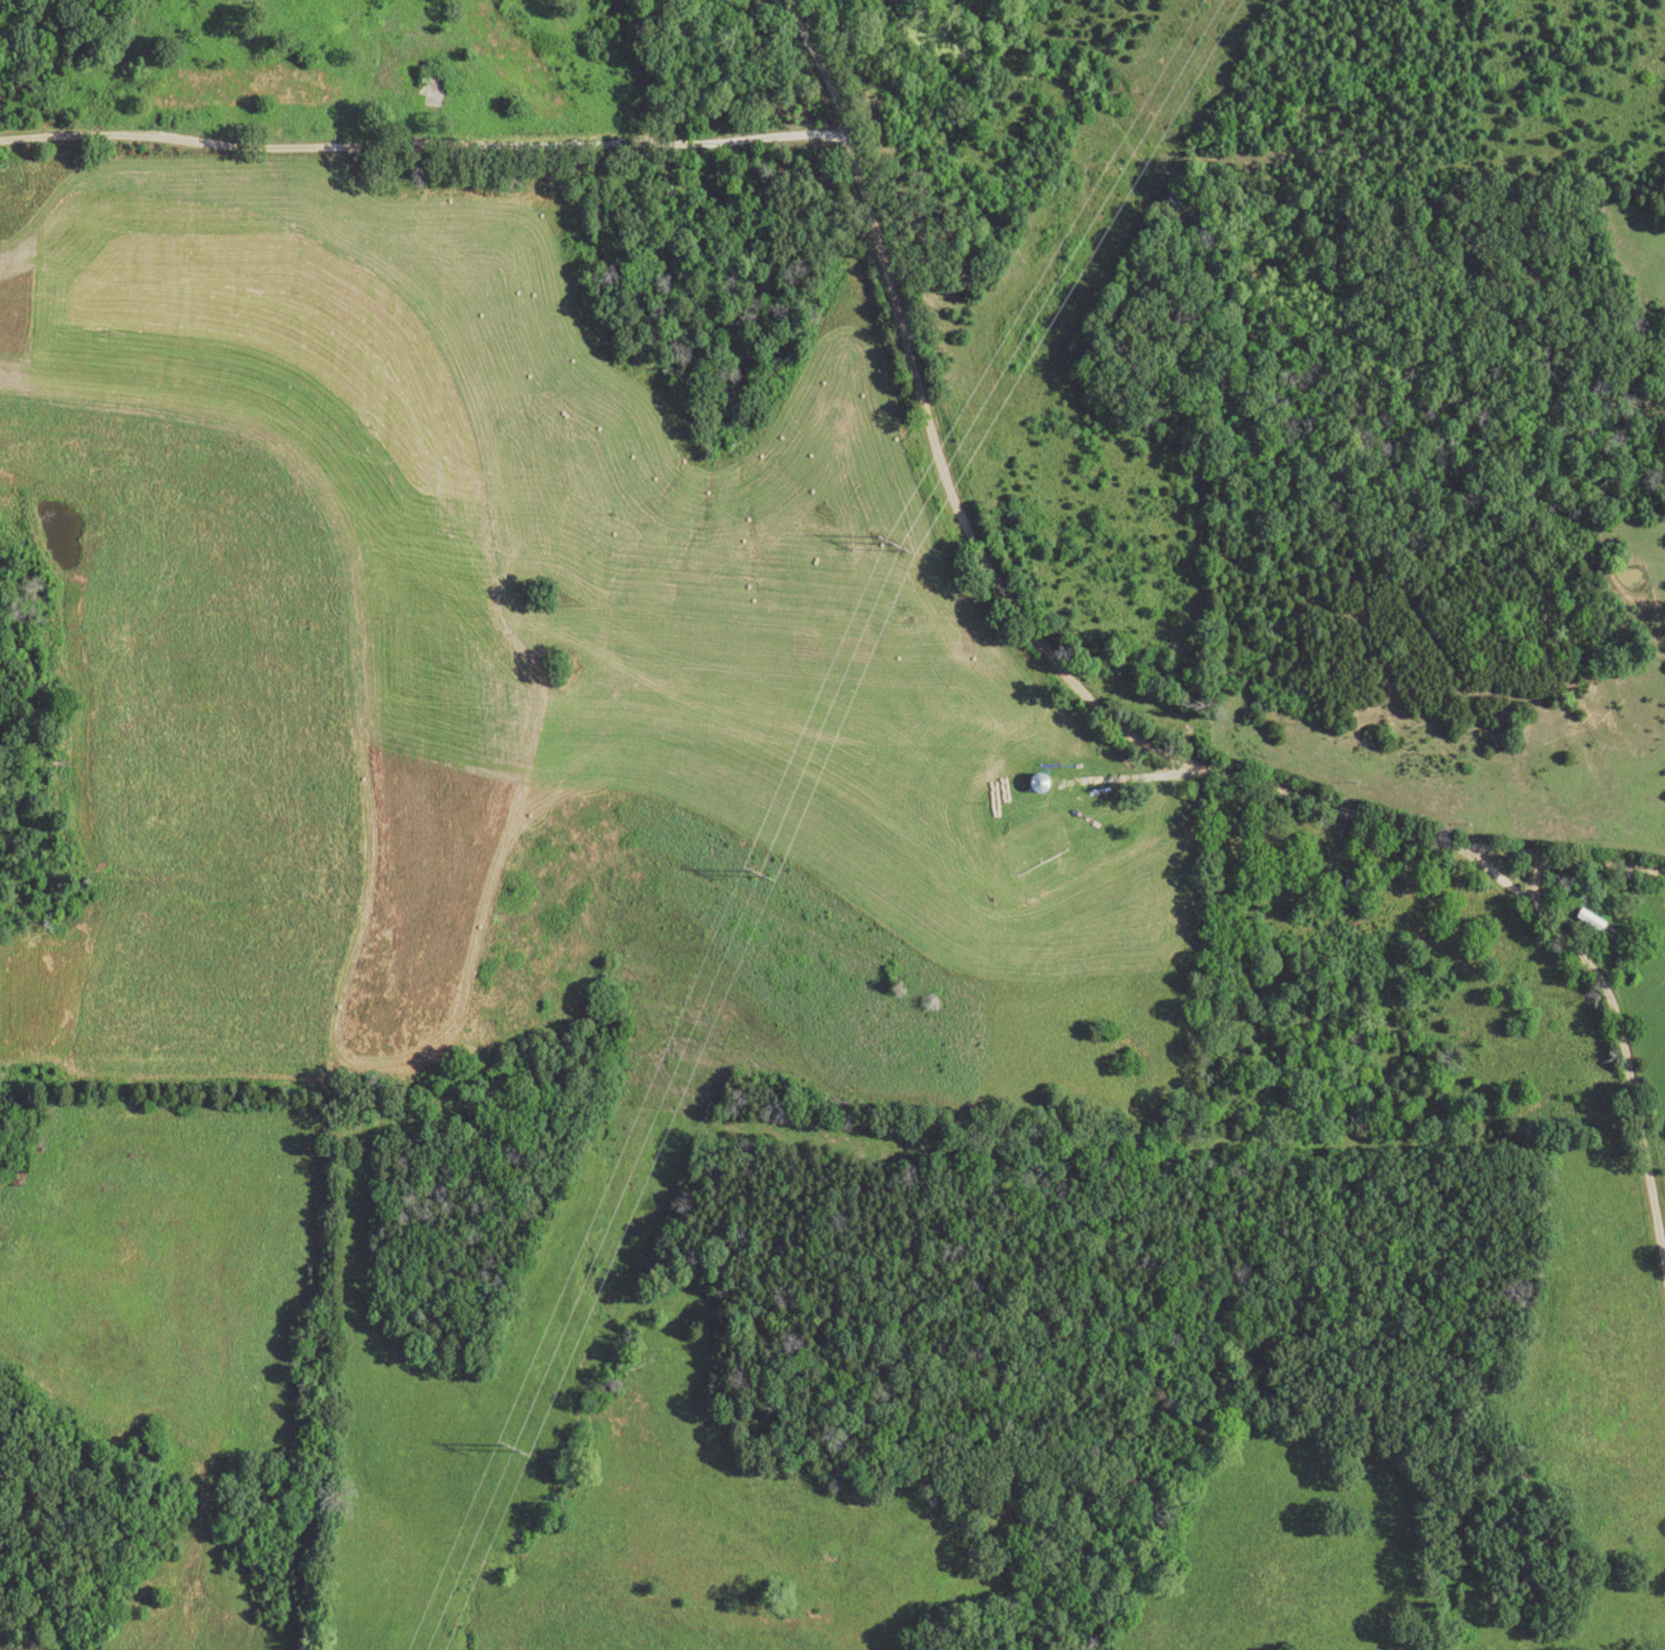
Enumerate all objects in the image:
building: (430, 90)
road: (408, 144)
power tower: (891, 546)
road: (1027, 622)
power tower: (758, 876)
building: (1348, 884)
road: (1615, 1000)
power tower: (515, 1450)

